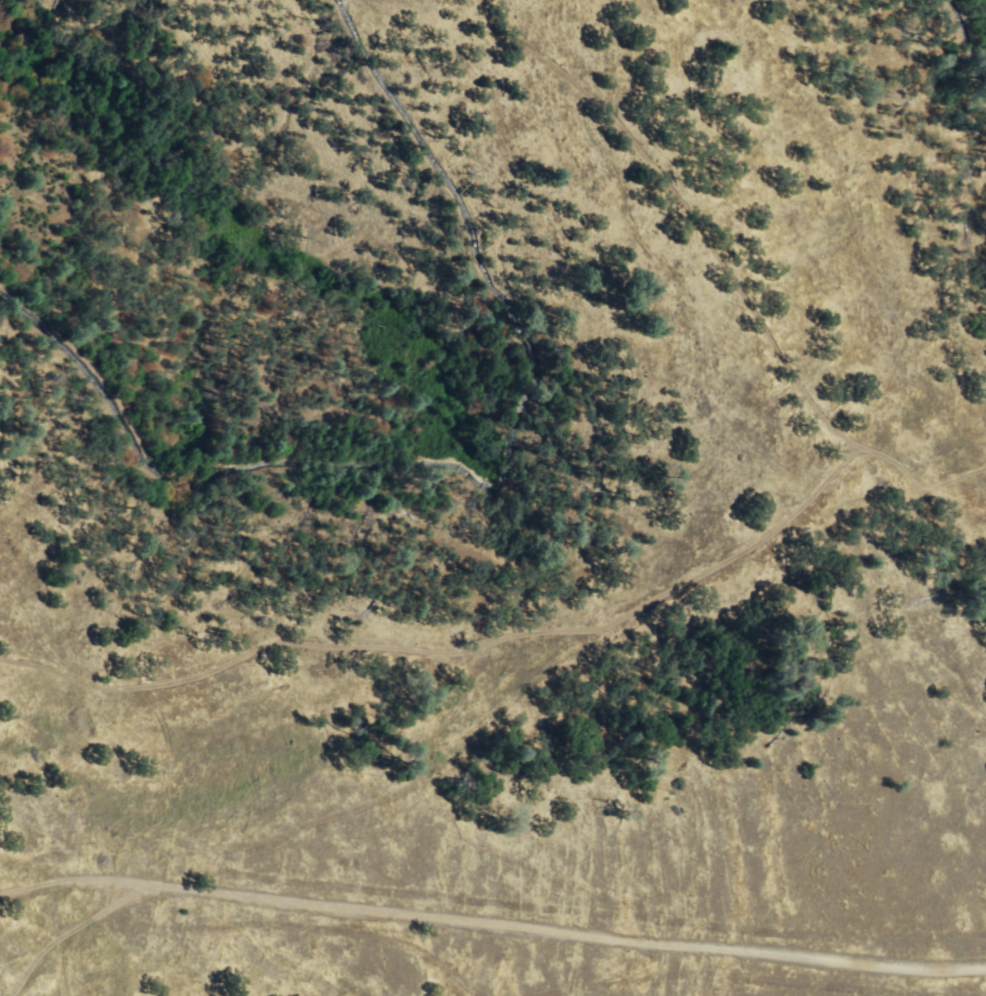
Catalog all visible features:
road: (492, 927)

